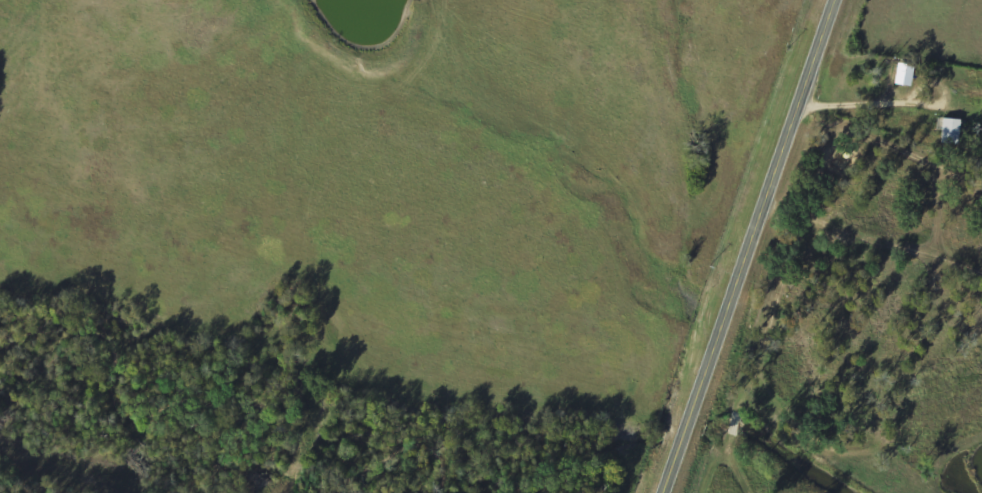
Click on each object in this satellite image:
building: (949, 131)
road: (747, 245)

